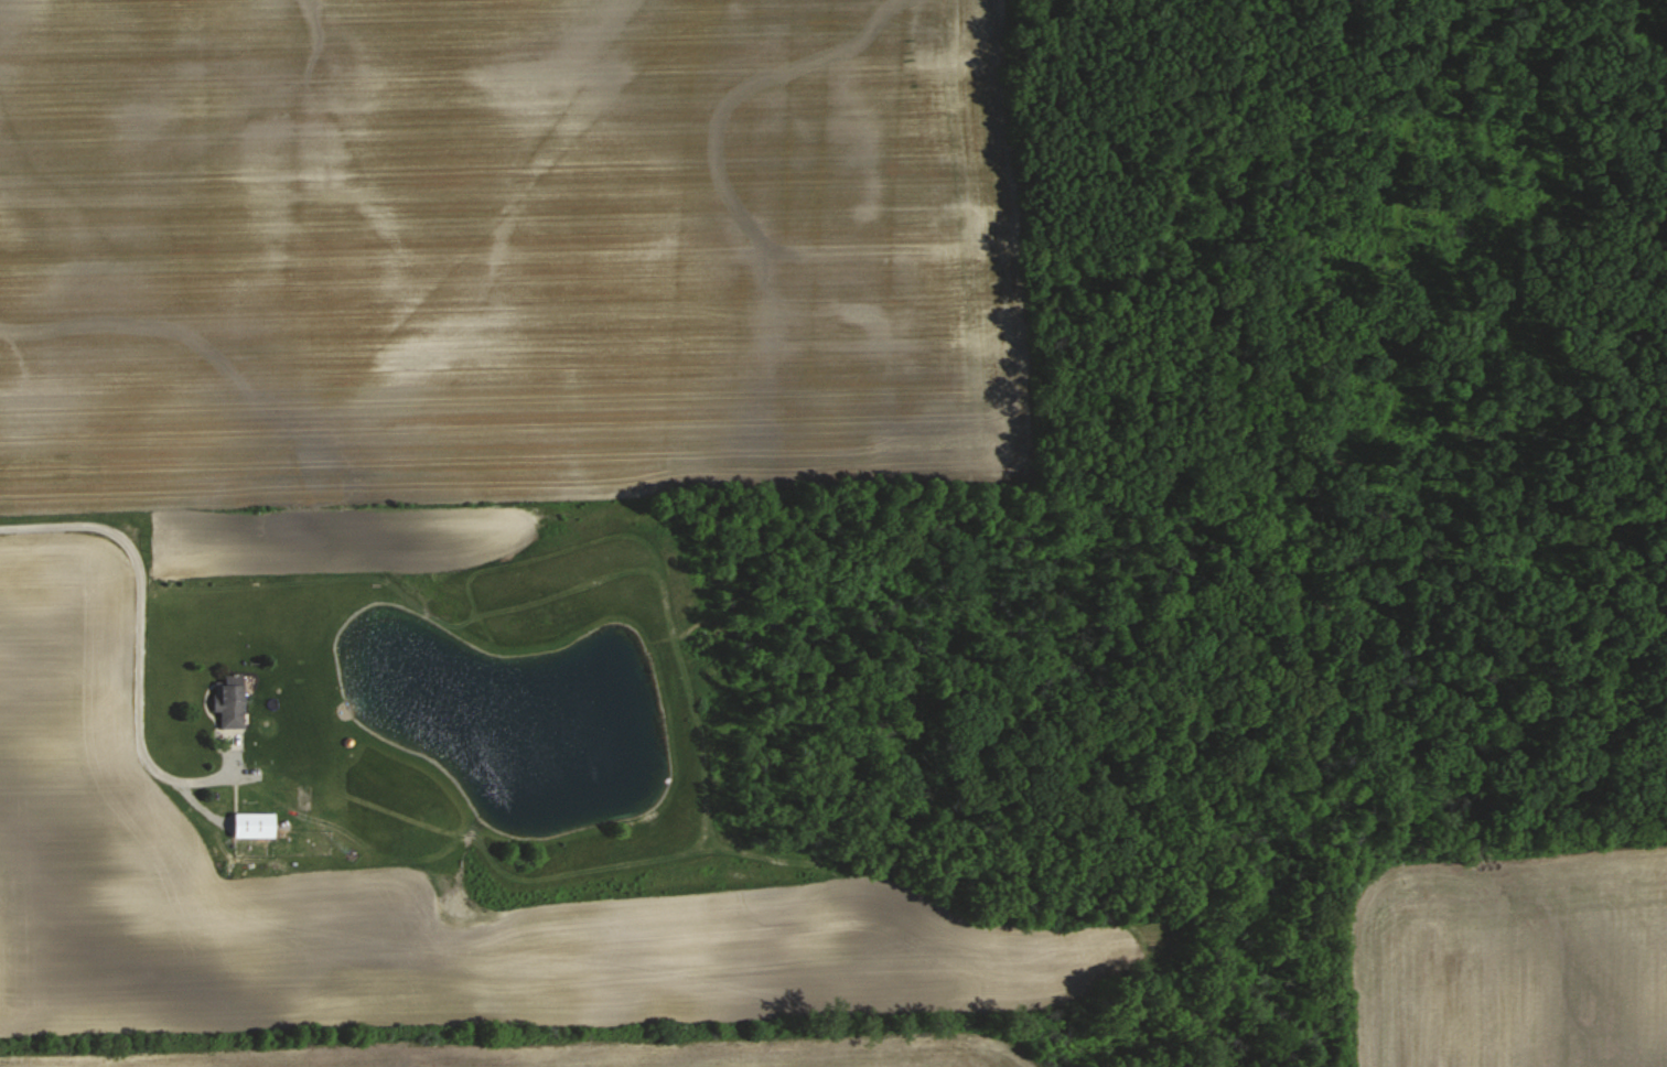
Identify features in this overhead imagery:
road: (138, 627)
building: (229, 700)
building: (252, 822)

